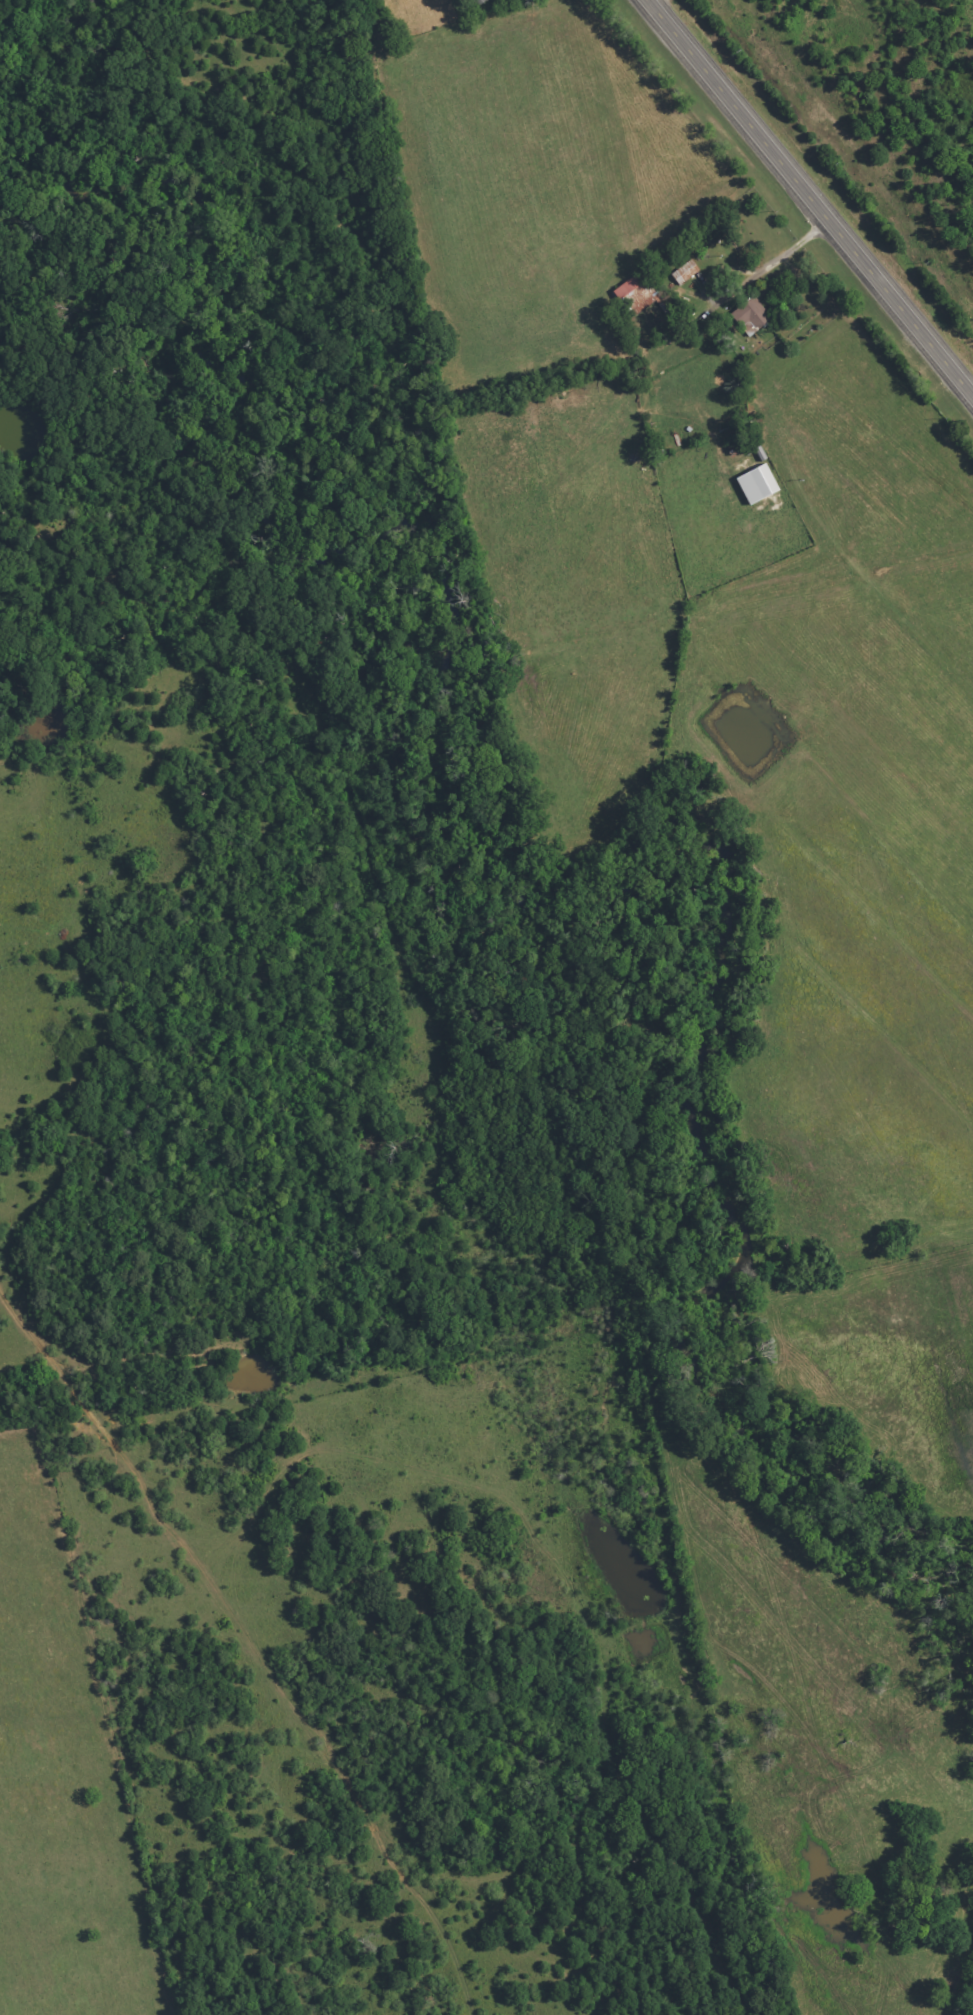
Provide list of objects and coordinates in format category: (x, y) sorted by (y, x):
road: (809, 199)
building: (686, 272)
building: (638, 293)
building: (752, 314)
building: (760, 484)

